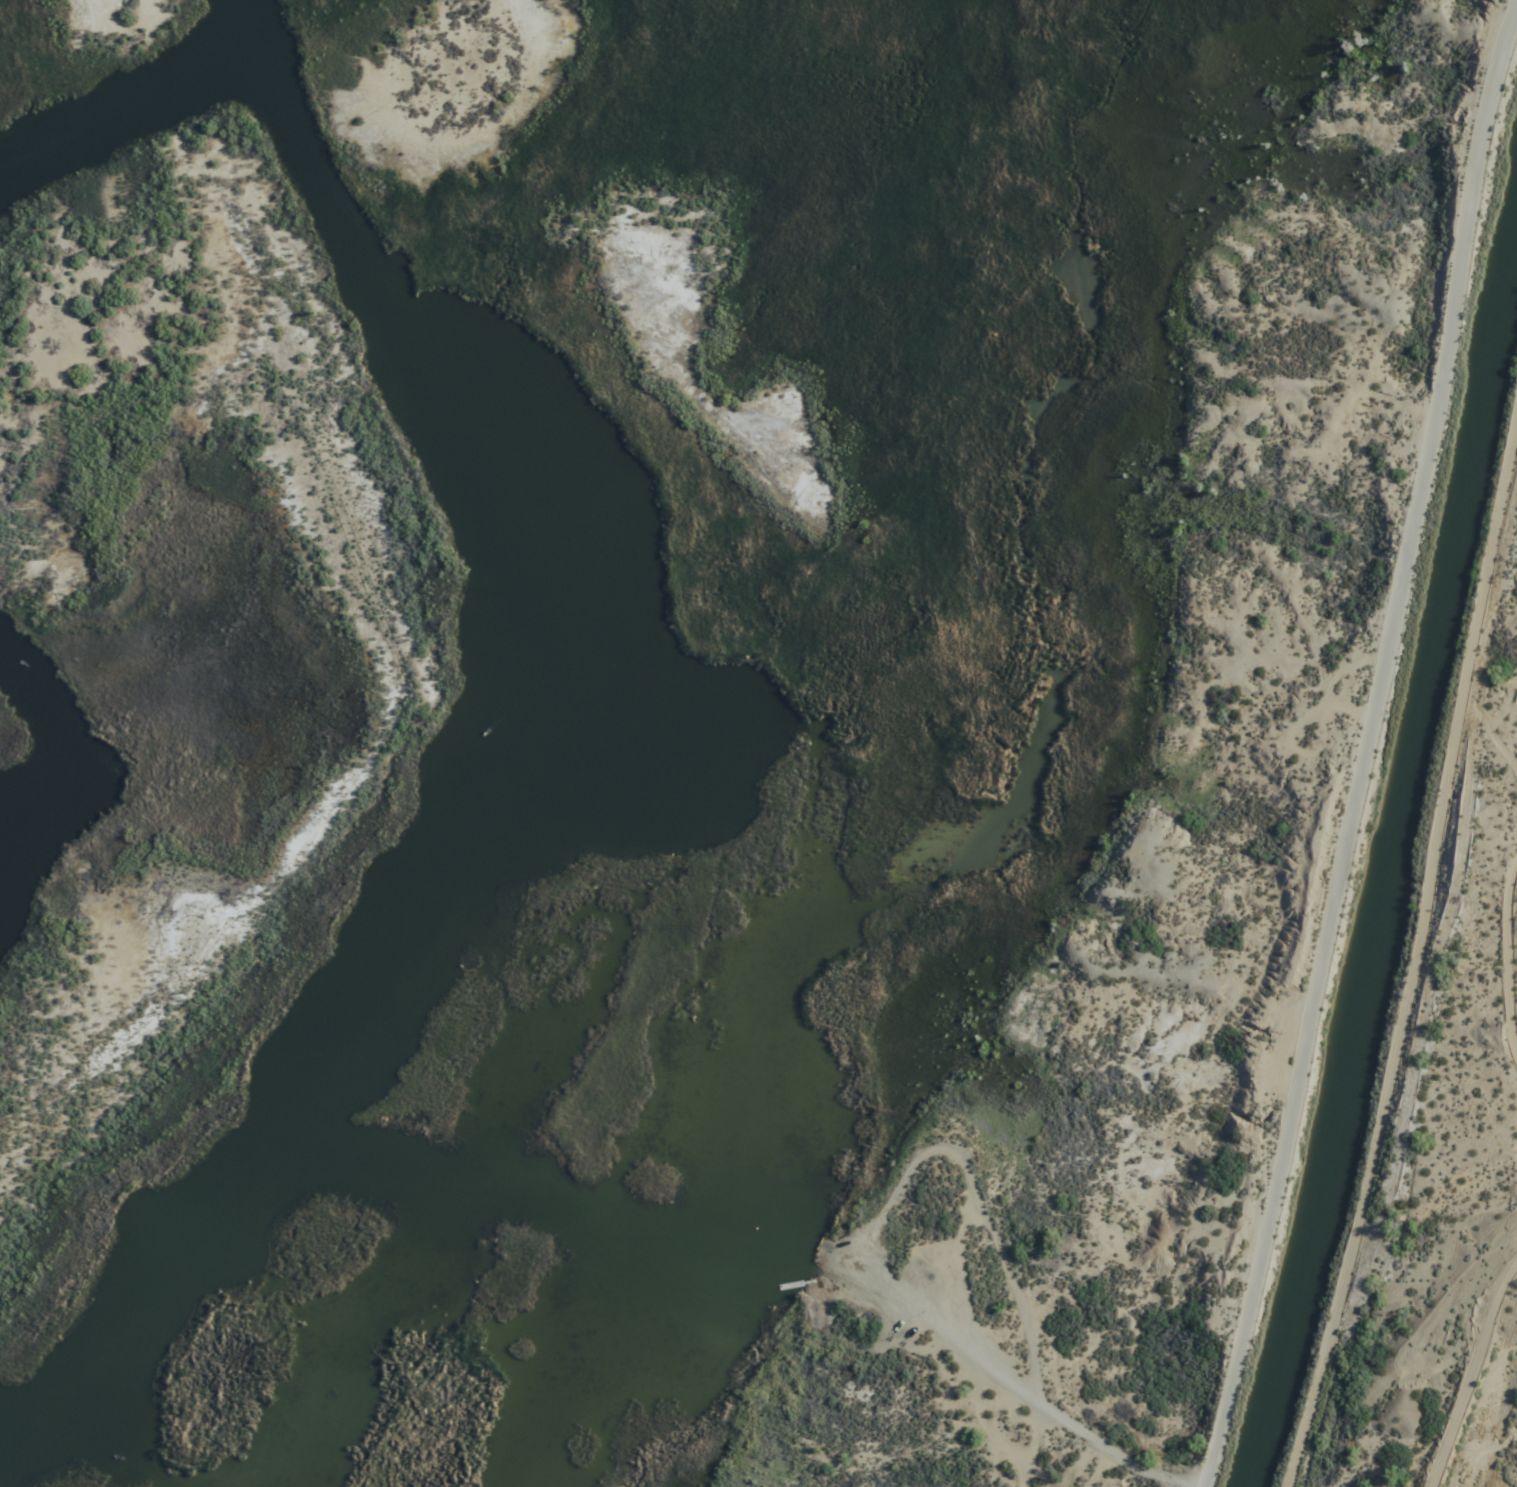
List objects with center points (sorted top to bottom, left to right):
road: (1366, 750)
river: (1395, 860)

